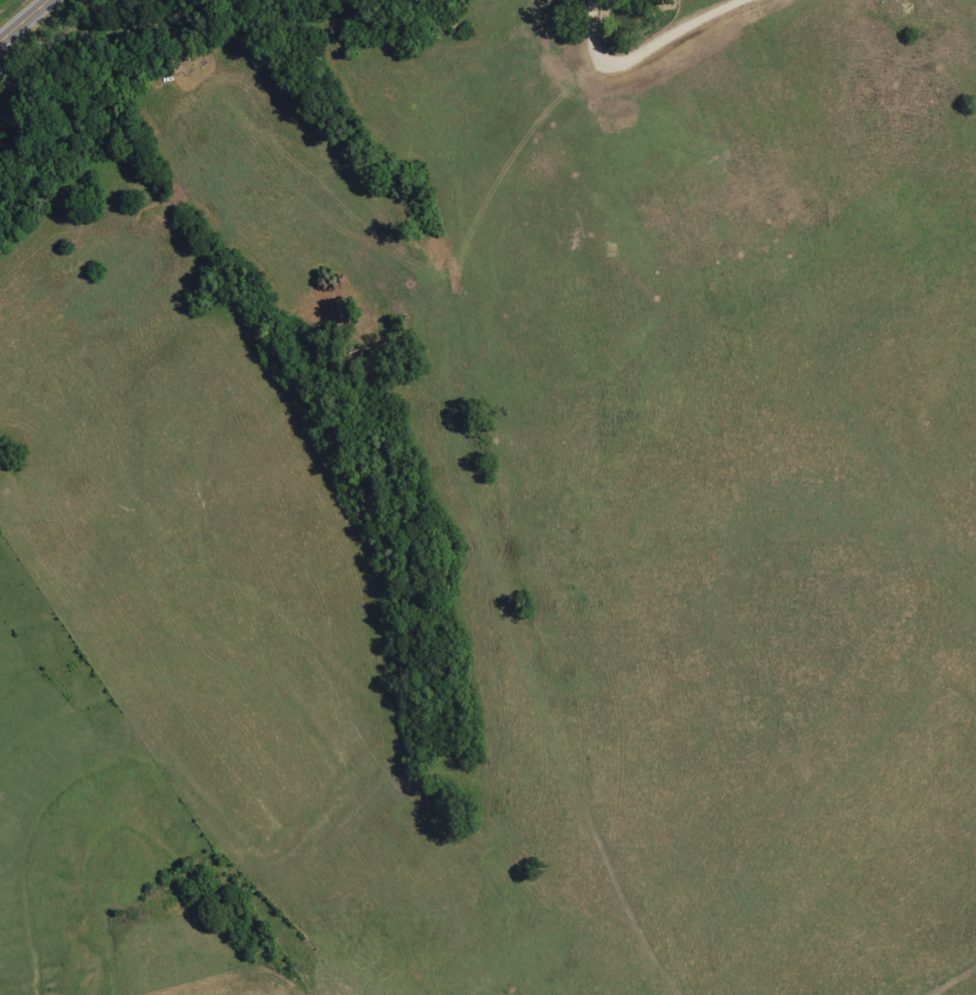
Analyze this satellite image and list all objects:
road: (26, 22)

